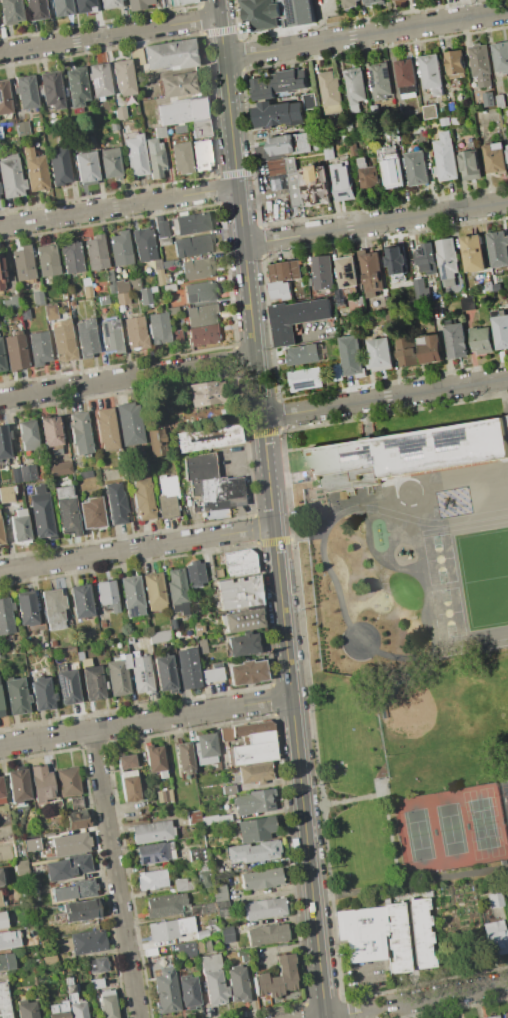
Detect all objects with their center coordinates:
building: (393, 0)
building: (373, 1)
building: (175, 2)
building: (350, 3)
building: (109, 4)
building: (137, 4)
building: (84, 6)
building: (62, 7)
road: (477, 8)
building: (36, 9)
road: (465, 9)
building: (10, 11)
building: (301, 12)
building: (263, 14)
road: (367, 34)
road: (110, 36)
building: (165, 55)
building: (501, 56)
building: (456, 63)
building: (481, 63)
building: (406, 72)
building: (432, 72)
building: (123, 76)
building: (99, 79)
building: (381, 80)
building: (278, 83)
building: (176, 85)
building: (76, 87)
building: (356, 87)
building: (51, 89)
building: (26, 91)
building: (331, 92)
building: (4, 97)
building: (311, 101)
building: (502, 101)
building: (495, 104)
building: (452, 106)
building: (197, 108)
building: (375, 109)
building: (430, 111)
building: (119, 112)
building: (173, 112)
building: (280, 113)
building: (446, 120)
building: (350, 125)
building: (113, 126)
building: (21, 128)
building: (177, 128)
building: (200, 128)
building: (160, 132)
building: (393, 134)
building: (0, 137)
building: (345, 138)
building: (282, 144)
building: (507, 146)
building: (354, 149)
building: (201, 155)
building: (136, 157)
building: (497, 157)
building: (154, 158)
building: (181, 158)
building: (447, 160)
building: (109, 162)
building: (470, 164)
building: (391, 166)
building: (59, 167)
building: (85, 168)
building: (417, 168)
building: (34, 170)
building: (368, 175)
building: (11, 177)
building: (289, 177)
building: (343, 182)
building: (316, 186)
road: (262, 196)
road: (119, 205)
building: (191, 223)
road: (377, 224)
building: (160, 227)
building: (164, 241)
building: (143, 244)
building: (192, 245)
building: (119, 248)
building: (498, 248)
building: (95, 252)
building: (473, 253)
building: (70, 256)
building: (427, 257)
building: (397, 259)
building: (47, 260)
building: (448, 260)
building: (22, 263)
building: (169, 263)
building: (197, 269)
building: (285, 270)
building: (323, 272)
building: (349, 272)
building: (372, 272)
building: (2, 273)
building: (109, 276)
building: (159, 277)
building: (311, 281)
building: (134, 284)
building: (496, 285)
building: (120, 286)
building: (489, 286)
building: (111, 287)
building: (169, 287)
building: (86, 288)
building: (422, 289)
building: (281, 290)
building: (200, 292)
building: (144, 295)
building: (63, 296)
building: (340, 296)
building: (37, 297)
building: (122, 298)
building: (103, 299)
building: (71, 303)
building: (469, 303)
building: (9, 304)
building: (357, 305)
building: (171, 311)
building: (49, 312)
building: (24, 313)
building: (203, 314)
building: (296, 318)
building: (158, 328)
building: (501, 328)
building: (135, 332)
building: (110, 334)
building: (205, 335)
building: (86, 337)
road: (295, 339)
building: (456, 339)
building: (483, 339)
building: (63, 340)
building: (38, 348)
building: (430, 348)
building: (407, 350)
building: (15, 351)
building: (304, 353)
building: (380, 353)
building: (352, 354)
building: (1, 361)
road: (128, 378)
building: (306, 378)
building: (200, 393)
road: (386, 398)
building: (130, 423)
building: (107, 429)
building: (49, 431)
building: (80, 433)
building: (27, 436)
building: (208, 437)
building: (156, 442)
building: (4, 443)
building: (408, 453)
building: (59, 468)
building: (22, 472)
building: (88, 474)
building: (211, 483)
building: (6, 493)
building: (167, 497)
building: (143, 498)
building: (115, 502)
road: (272, 508)
building: (66, 510)
building: (41, 513)
building: (91, 513)
building: (20, 526)
building: (1, 536)
park: (497, 544)
road: (136, 550)
park: (440, 558)
building: (238, 562)
building: (217, 573)
building: (194, 574)
park: (484, 575)
track: (420, 580)
building: (153, 591)
building: (177, 591)
building: (237, 593)
building: (107, 595)
building: (131, 596)
building: (80, 601)
building: (53, 608)
building: (26, 610)
park: (448, 612)
building: (6, 616)
building: (242, 620)
building: (102, 623)
building: (39, 626)
building: (197, 628)
building: (159, 636)
building: (52, 643)
building: (242, 644)
building: (202, 646)
building: (217, 653)
building: (79, 655)
building: (84, 662)
building: (187, 668)
building: (247, 672)
building: (141, 674)
building: (164, 674)
building: (117, 675)
building: (212, 675)
building: (92, 683)
building: (66, 687)
building: (41, 694)
building: (16, 695)
building: (1, 709)
road: (145, 721)
park: (437, 727)
building: (244, 729)
building: (260, 737)
building: (205, 749)
building: (253, 753)
building: (184, 757)
building: (156, 760)
building: (125, 761)
building: (255, 773)
park: (415, 776)
building: (68, 782)
building: (41, 783)
building: (17, 785)
building: (129, 785)
building: (242, 788)
building: (229, 789)
building: (211, 790)
building: (1, 794)
park: (506, 794)
building: (164, 796)
road: (503, 799)
road: (353, 800)
building: (255, 802)
building: (76, 803)
road: (319, 805)
building: (57, 806)
road: (507, 817)
building: (194, 818)
building: (76, 820)
building: (256, 829)
building: (17, 830)
building: (152, 831)
park: (450, 831)
road: (389, 833)
building: (8, 844)
building: (32, 844)
building: (69, 844)
building: (155, 852)
building: (253, 852)
building: (199, 854)
building: (3, 855)
building: (21, 867)
building: (71, 867)
road: (116, 874)
building: (204, 878)
building: (151, 879)
building: (260, 879)
building: (11, 880)
building: (1, 882)
building: (35, 882)
road: (410, 882)
building: (183, 884)
building: (85, 888)
building: (64, 893)
building: (494, 899)
building: (220, 900)
building: (0, 902)
building: (166, 908)
building: (203, 908)
building: (264, 908)
building: (81, 909)
building: (3, 920)
building: (170, 928)
building: (208, 930)
building: (362, 933)
building: (420, 933)
building: (267, 934)
building: (226, 935)
building: (397, 937)
building: (494, 938)
building: (9, 939)
building: (87, 942)
building: (62, 946)
building: (202, 946)
road: (284, 948)
building: (184, 950)
building: (150, 952)
building: (243, 958)
building: (7, 961)
building: (97, 965)
building: (27, 978)
building: (277, 978)
building: (212, 980)
building: (66, 981)
building: (96, 983)
building: (238, 984)
building: (74, 987)
road: (365, 987)
building: (188, 992)
building: (166, 993)
road: (450, 994)
building: (4, 1001)
building: (108, 1004)
building: (76, 1006)
road: (383, 1007)
building: (26, 1009)
building: (58, 1010)
road: (352, 1012)
building: (505, 1015)
building: (492, 1017)

